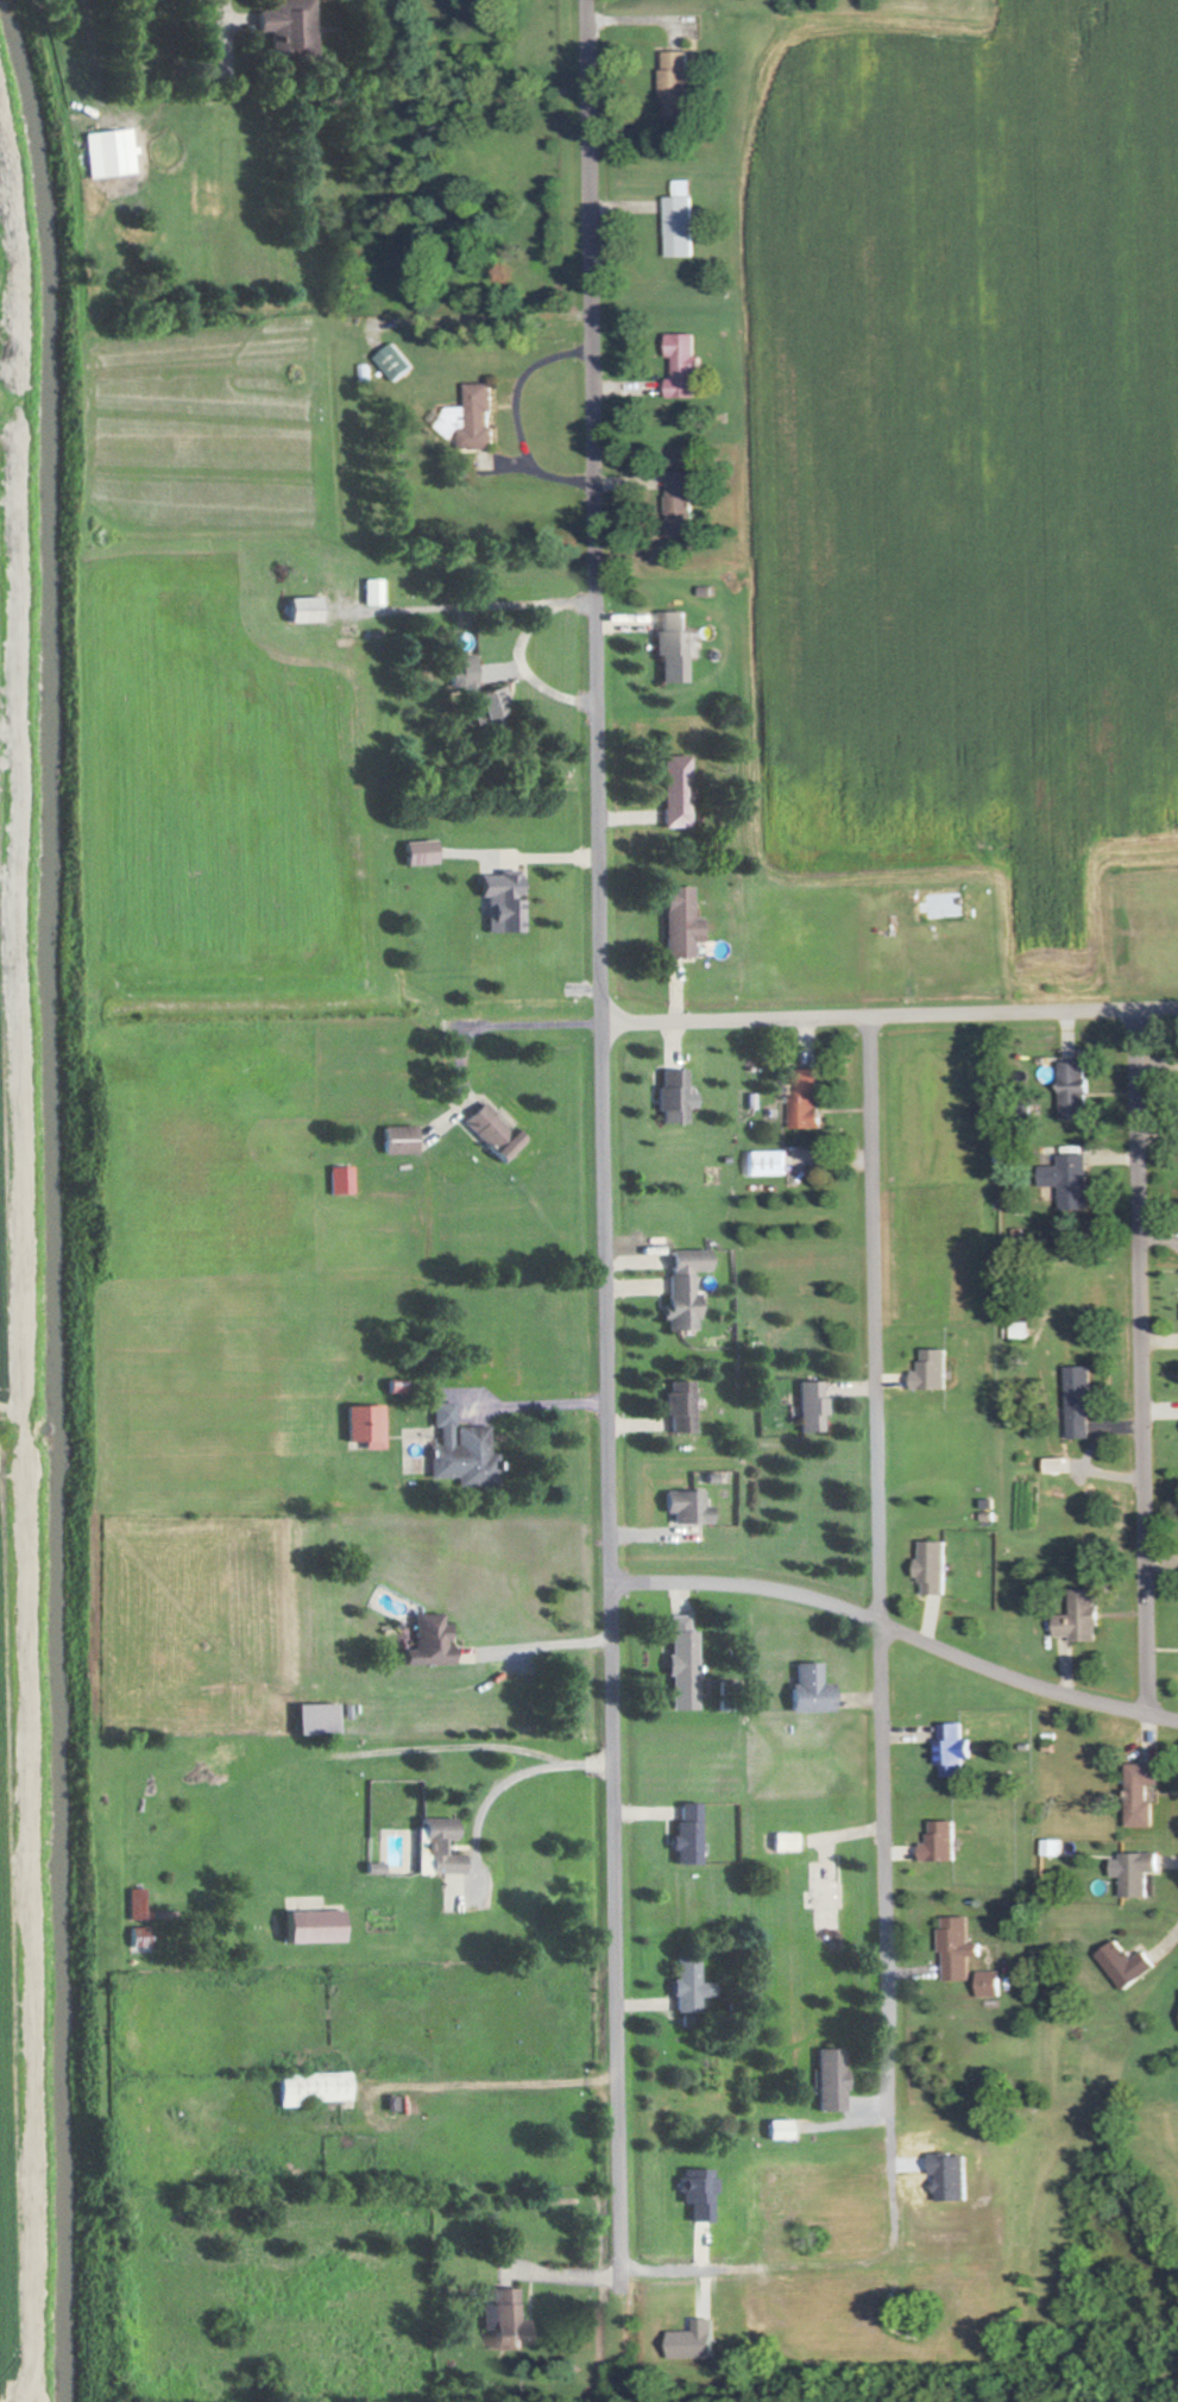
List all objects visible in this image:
building: (294, 27)
building: (679, 84)
road: (307, 100)
building: (113, 153)
building: (682, 221)
road: (556, 245)
building: (396, 364)
building: (686, 366)
road: (516, 415)
building: (474, 418)
building: (684, 503)
building: (376, 593)
road: (465, 604)
building: (310, 610)
building: (675, 648)
road: (525, 667)
building: (466, 670)
building: (497, 705)
building: (680, 792)
building: (424, 852)
building: (506, 901)
building: (684, 922)
road: (888, 1013)
road: (527, 1022)
building: (1077, 1090)
building: (678, 1096)
building: (807, 1098)
building: (496, 1131)
building: (403, 1140)
road: (600, 1140)
building: (770, 1164)
building: (342, 1179)
building: (1073, 1180)
building: (687, 1288)
building: (1023, 1330)
road: (1136, 1357)
building: (934, 1370)
road: (523, 1399)
building: (1083, 1402)
building: (684, 1406)
building: (813, 1406)
building: (368, 1425)
building: (464, 1450)
building: (1060, 1465)
building: (689, 1507)
road: (877, 1564)
building: (937, 1566)
building: (1082, 1618)
road: (896, 1625)
building: (430, 1641)
building: (685, 1664)
building: (813, 1689)
building: (320, 1719)
building: (956, 1751)
road: (505, 1765)
building: (1144, 1793)
building: (691, 1834)
building: (782, 1842)
building: (943, 1843)
building: (1053, 1848)
building: (1139, 1873)
building: (139, 1904)
building: (320, 1927)
building: (141, 1937)
building: (960, 1949)
building: (1128, 1966)
building: (993, 1985)
building: (692, 1986)
road: (486, 2079)
building: (832, 2080)
building: (317, 2088)
building: (781, 2130)
building: (956, 2179)
building: (699, 2194)
building: (506, 2321)
building: (700, 2341)

